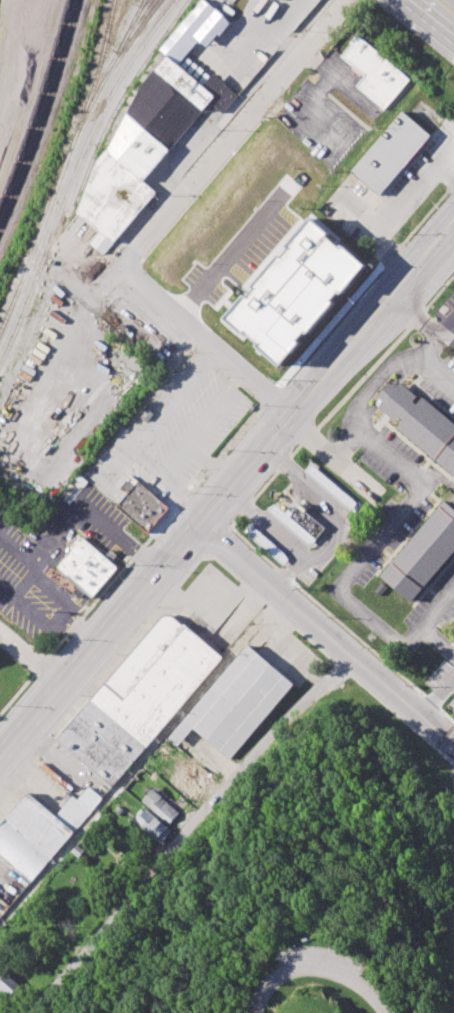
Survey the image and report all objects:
road: (427, 21)
railway: (134, 23)
road: (5, 25)
railway: (120, 46)
railway: (113, 65)
building: (376, 71)
railway: (123, 99)
railway: (38, 104)
railway: (44, 115)
building: (153, 129)
road: (230, 133)
railway: (69, 154)
building: (390, 154)
railway: (74, 173)
road: (388, 214)
road: (221, 249)
road: (425, 264)
building: (289, 297)
parking lot: (447, 312)
railway: (6, 318)
road: (426, 323)
road: (206, 340)
road: (438, 368)
parking lot: (441, 384)
road: (173, 400)
road: (217, 409)
road: (361, 410)
building: (146, 415)
building: (420, 423)
parking lot: (173, 426)
parking lot: (392, 459)
road: (174, 462)
road: (145, 464)
road: (210, 466)
building: (330, 485)
road: (184, 498)
building: (450, 502)
road: (74, 504)
building: (142, 507)
building: (299, 521)
road: (197, 529)
parking lot: (393, 541)
building: (269, 546)
road: (329, 547)
building: (423, 554)
parking lot: (56, 560)
road: (357, 565)
building: (89, 568)
road: (290, 575)
parking lot: (436, 601)
road: (47, 618)
road: (326, 635)
road: (436, 639)
road: (34, 658)
parking lot: (443, 679)
building: (138, 697)
road: (440, 698)
building: (236, 702)
road: (141, 758)
building: (185, 785)
building: (89, 798)
building: (161, 806)
building: (118, 810)
building: (150, 825)
road: (186, 832)
building: (37, 833)
building: (76, 851)
park: (305, 884)
road: (256, 928)
parking lot: (321, 964)
road: (320, 969)
building: (10, 984)

